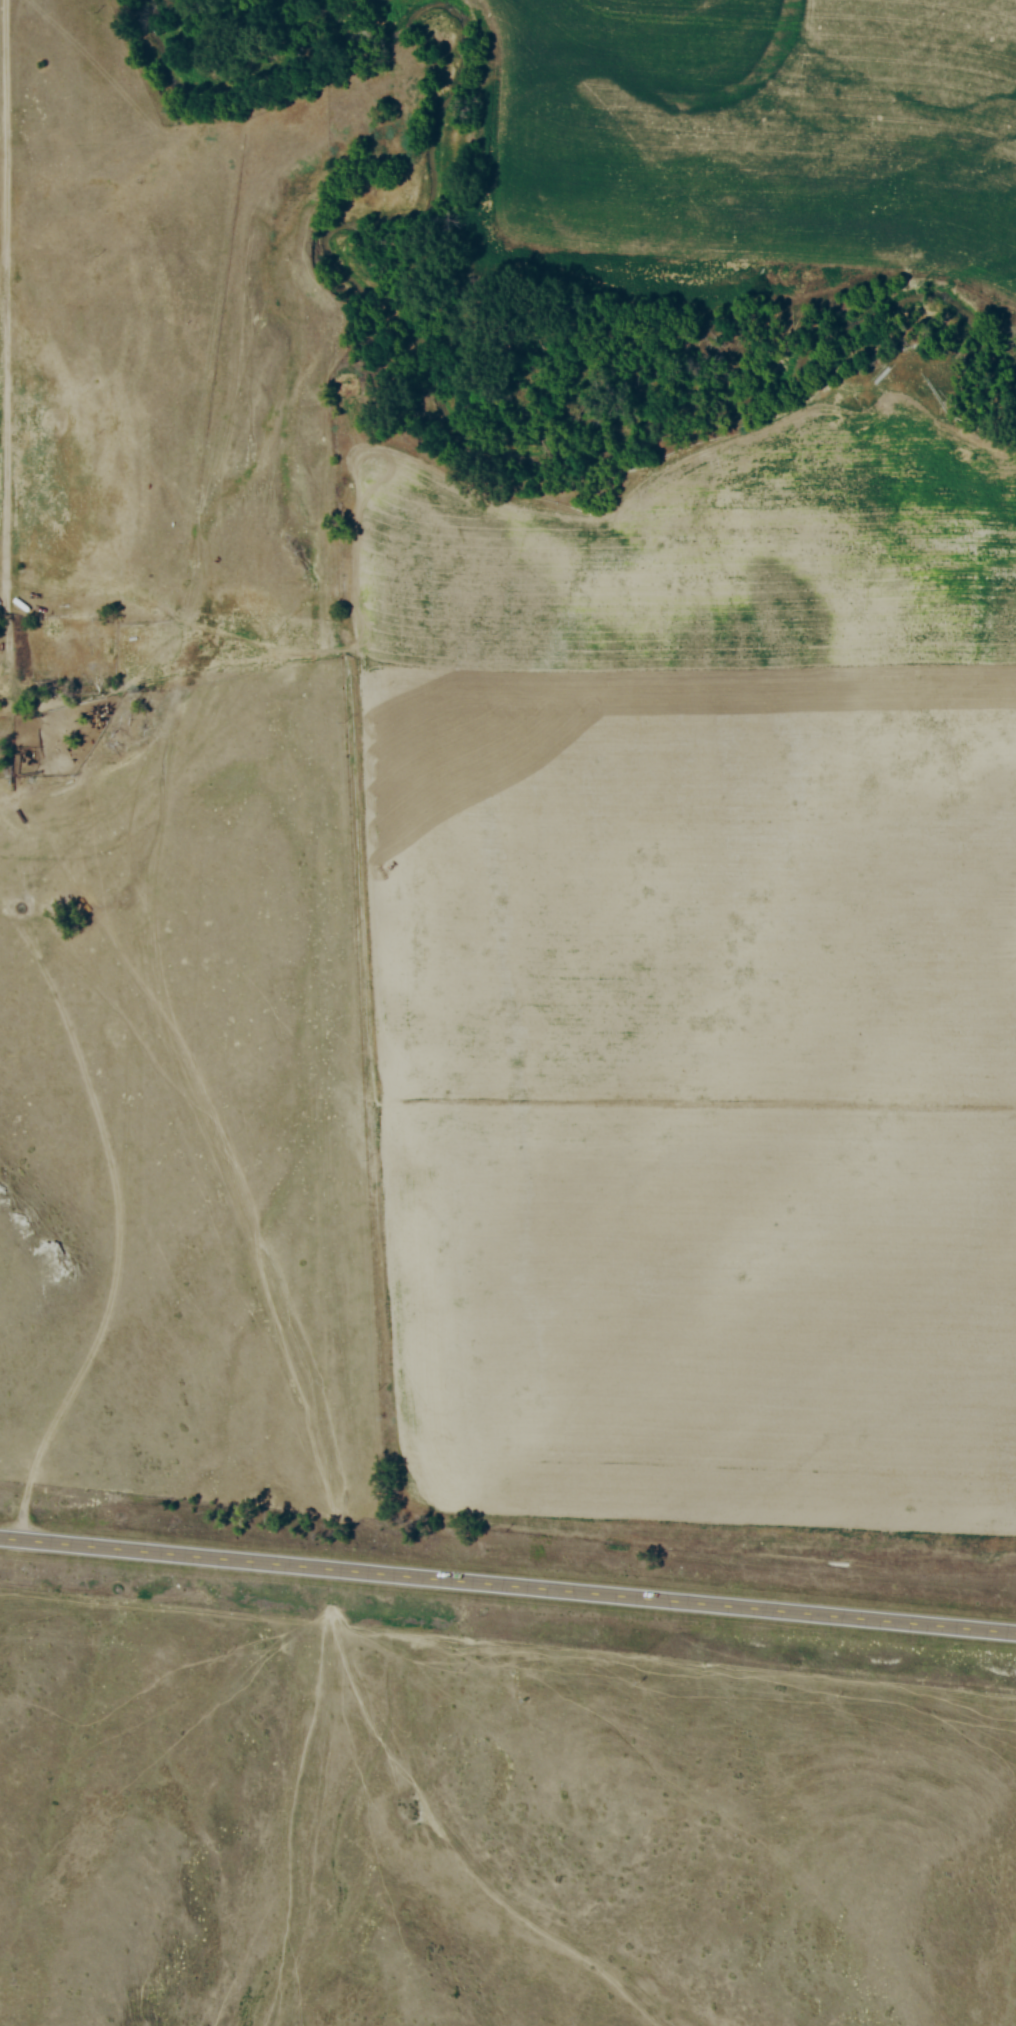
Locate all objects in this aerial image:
road: (6, 353)
crop: (699, 980)
road: (508, 1586)

